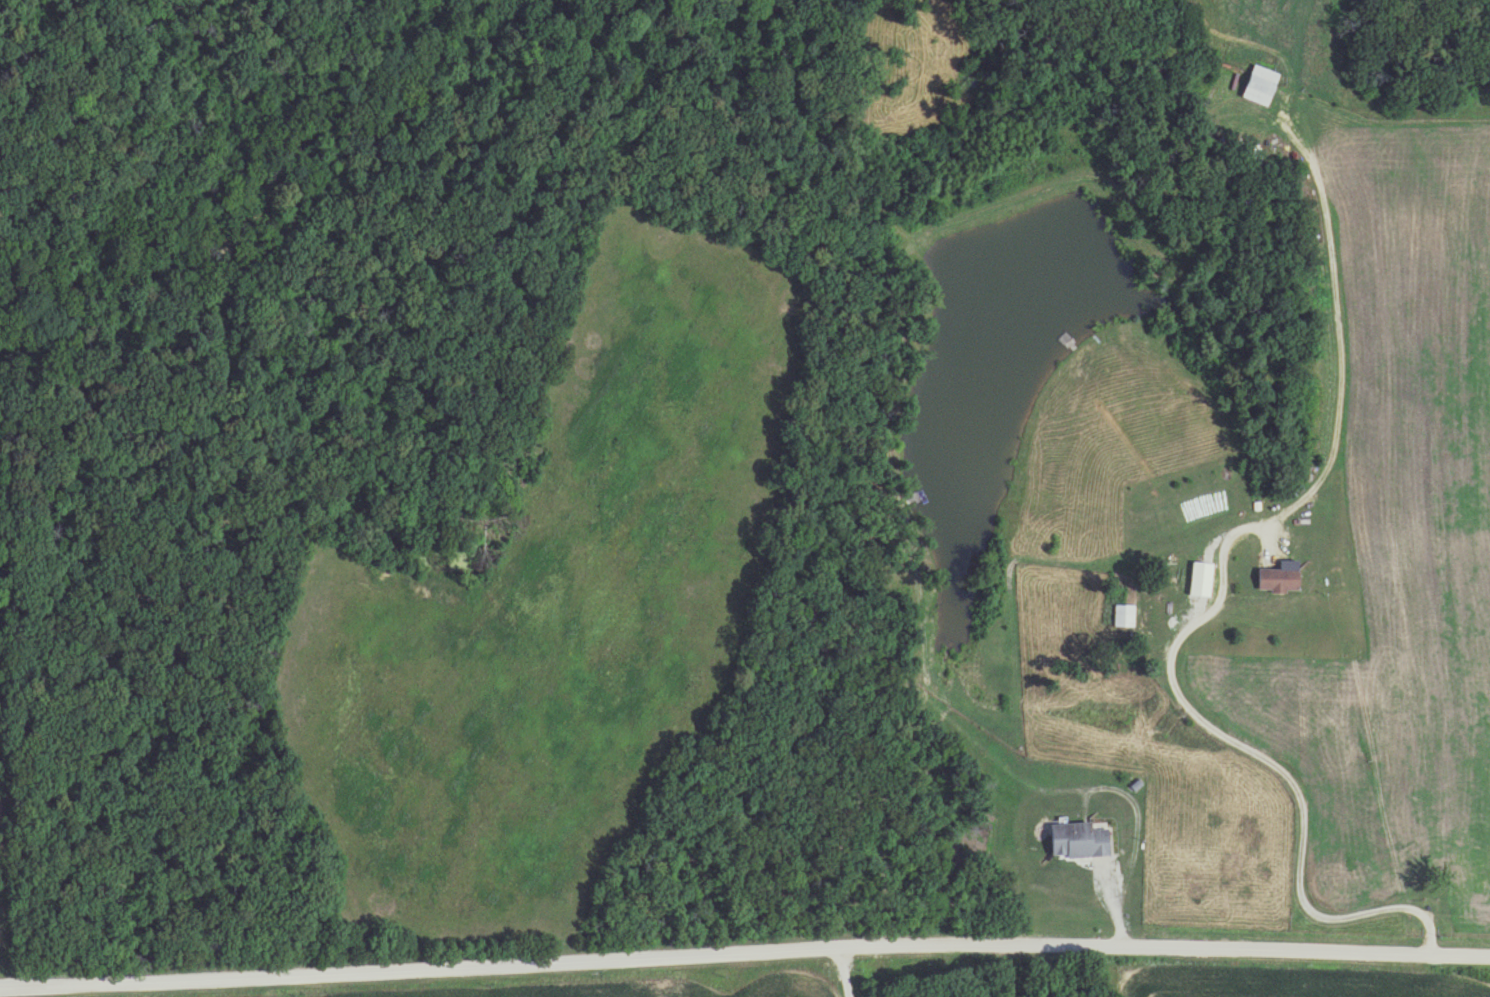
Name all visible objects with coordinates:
building: (1253, 86)
building: (1272, 581)
building: (1196, 585)
building: (1121, 617)
road: (1248, 753)
building: (1073, 842)
road: (744, 956)
road: (844, 974)

